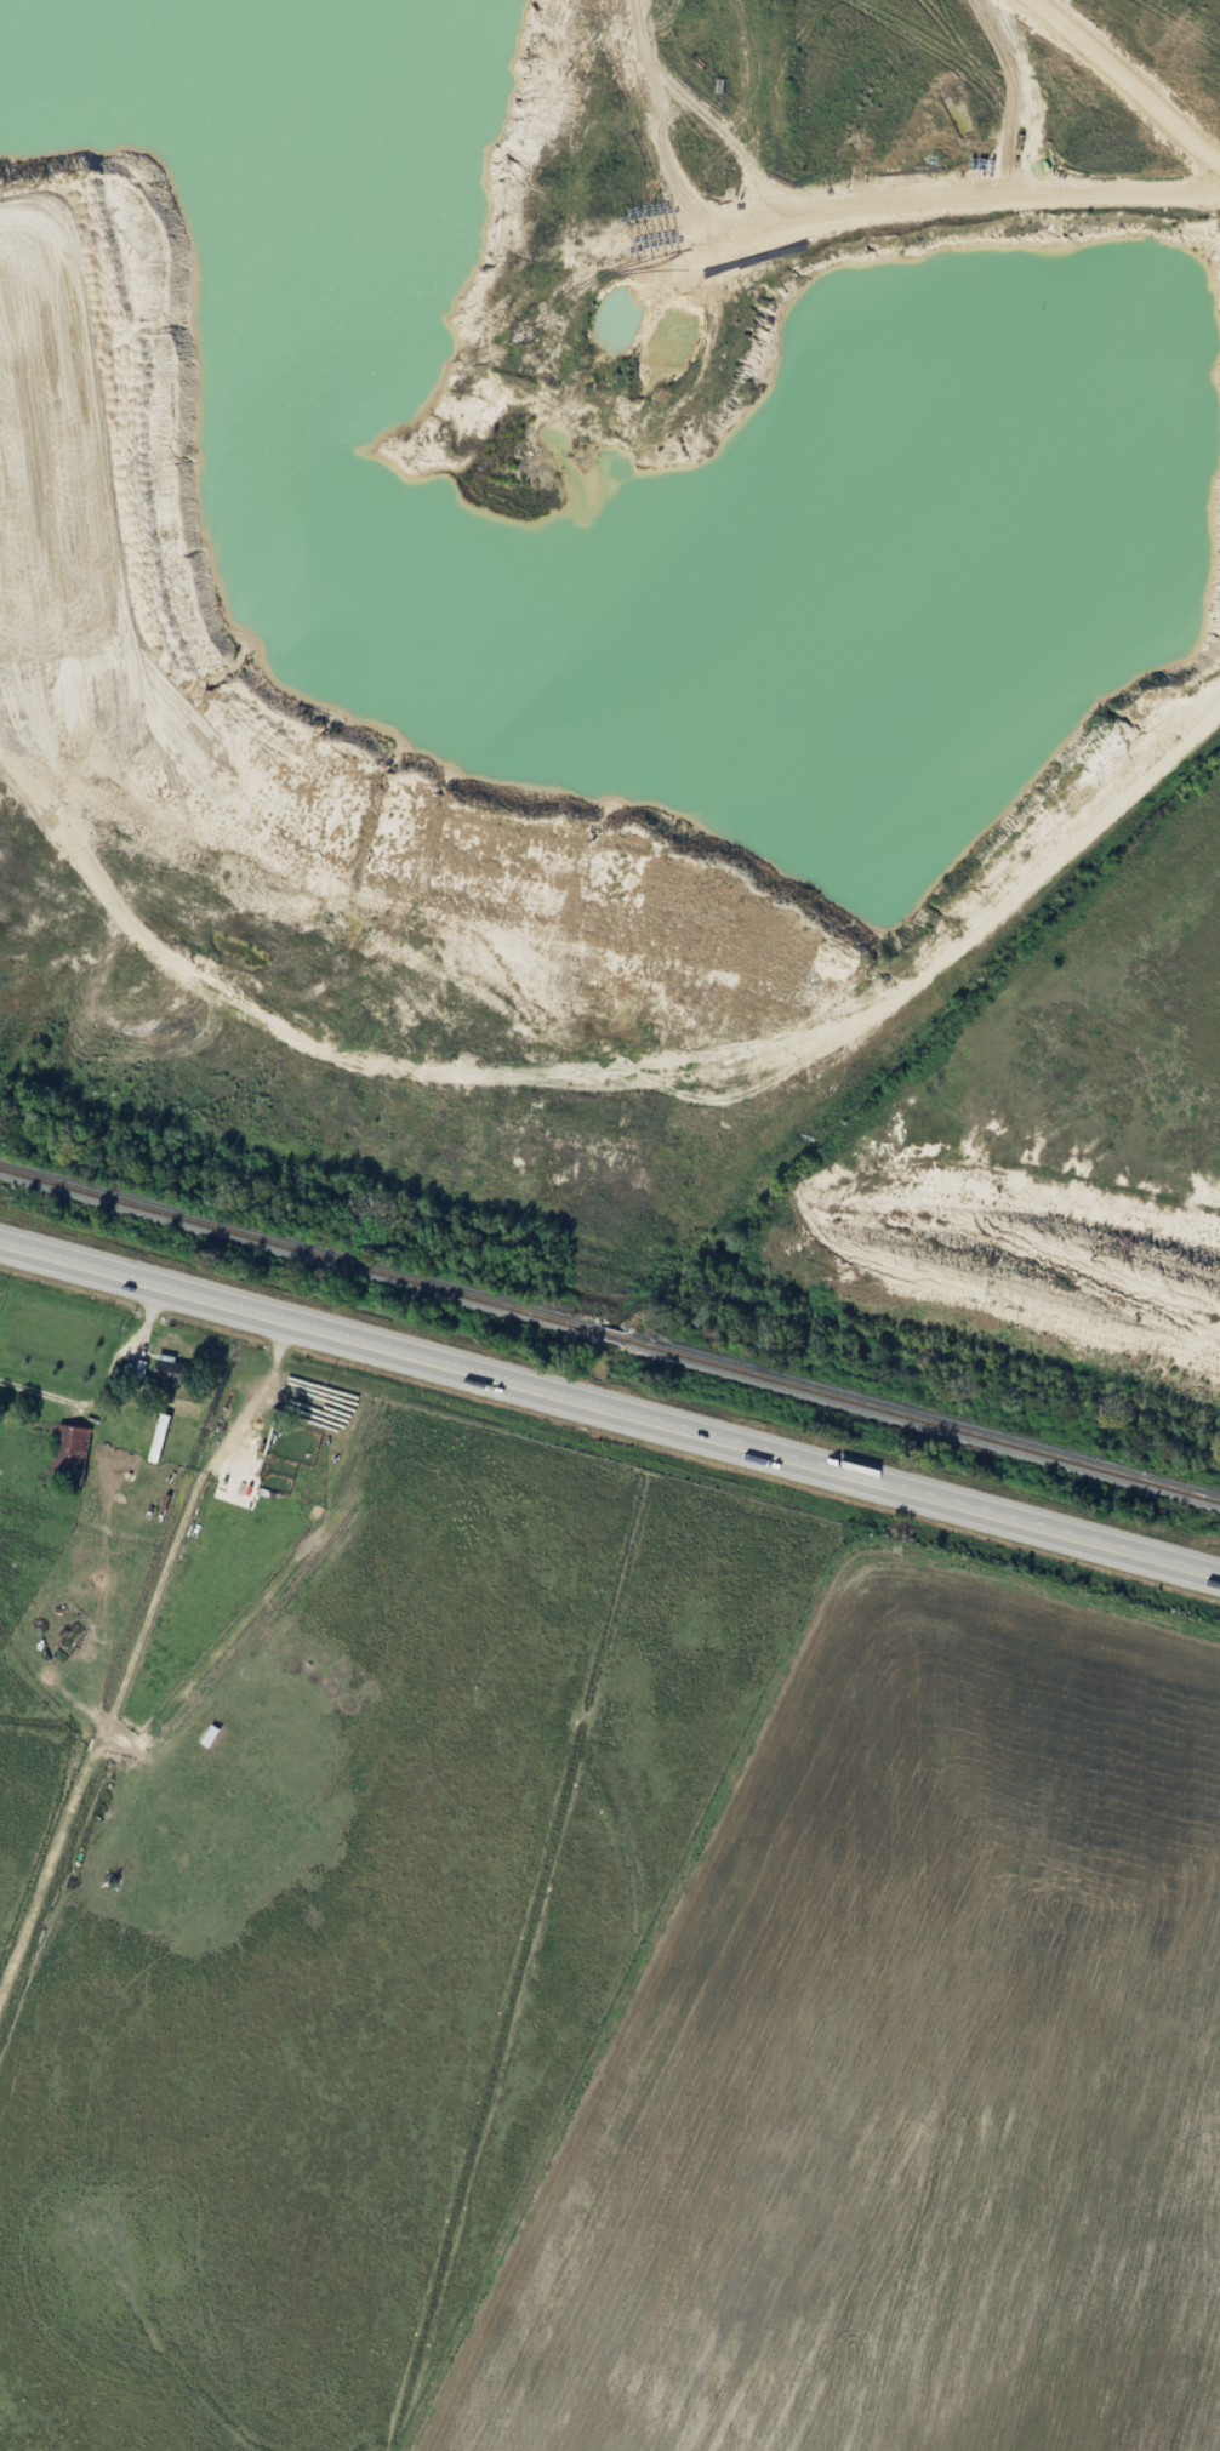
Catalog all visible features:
road: (888, 206)
road: (343, 541)
railway: (302, 1252)
railway: (609, 1335)
building: (173, 1370)
road: (609, 1404)
railway: (917, 1419)
building: (73, 1448)

